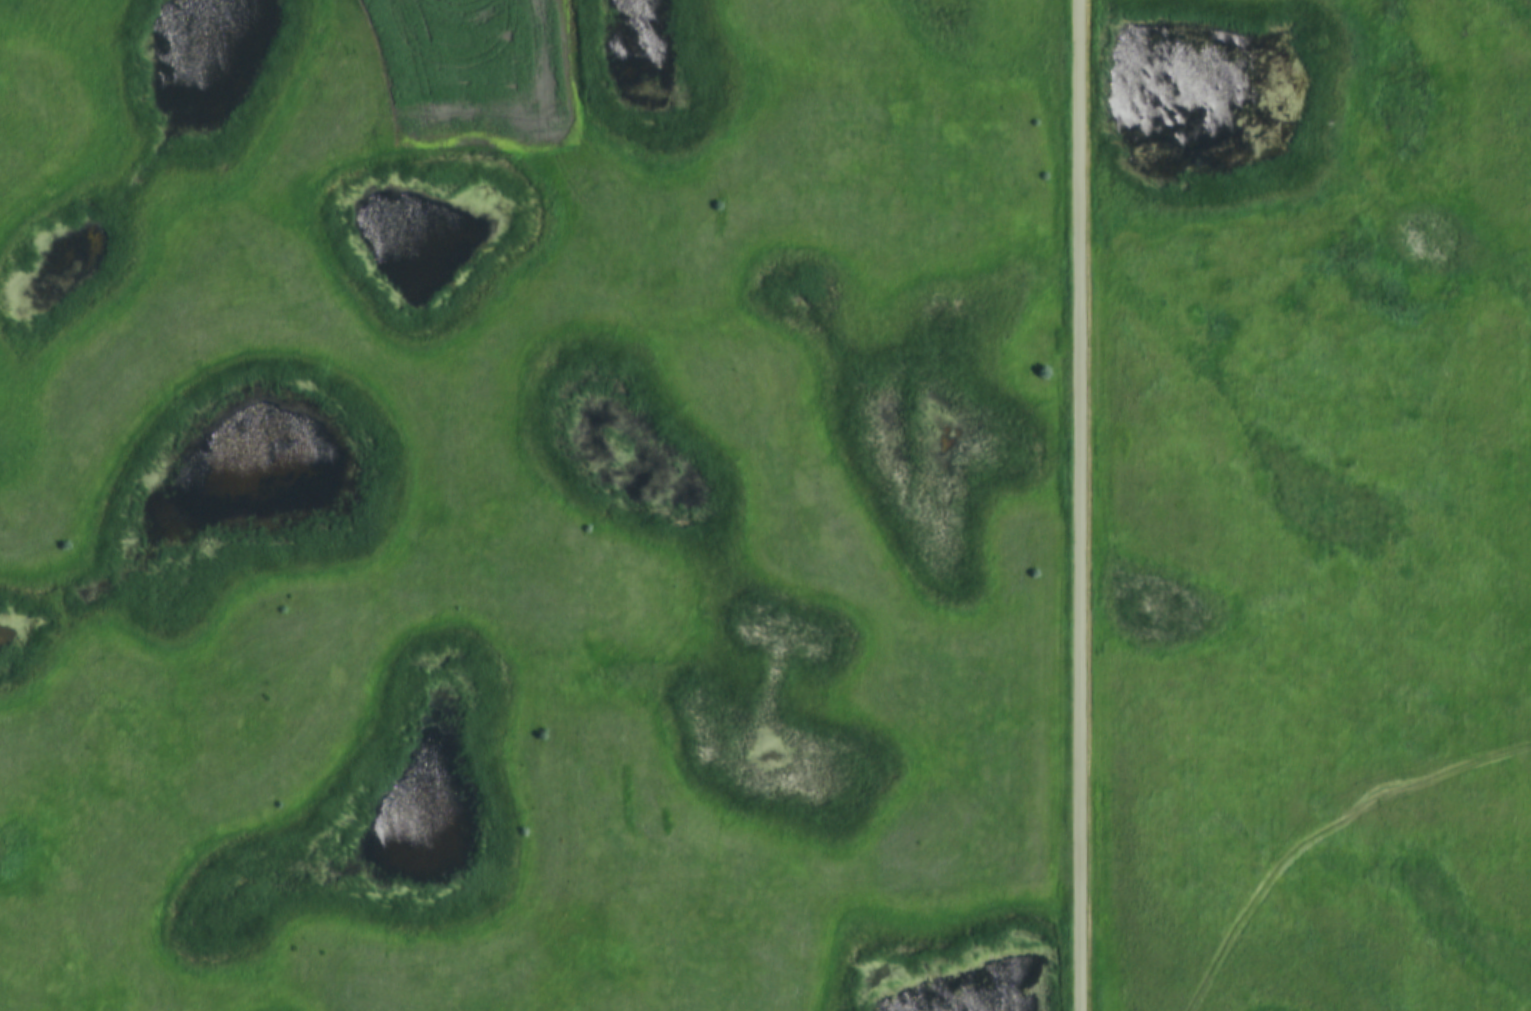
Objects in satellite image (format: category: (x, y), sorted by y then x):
road: (1082, 505)

